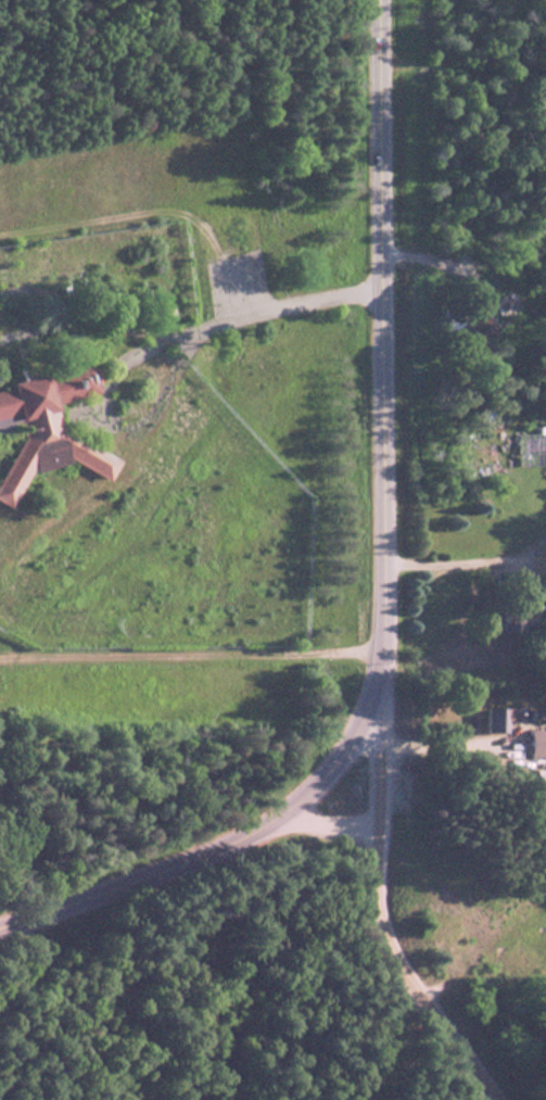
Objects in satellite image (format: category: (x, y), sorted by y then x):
park: (465, 218)
building: (468, 319)
building: (47, 418)
road: (390, 581)
building: (496, 718)
road: (331, 830)
road: (382, 911)
park: (300, 963)

